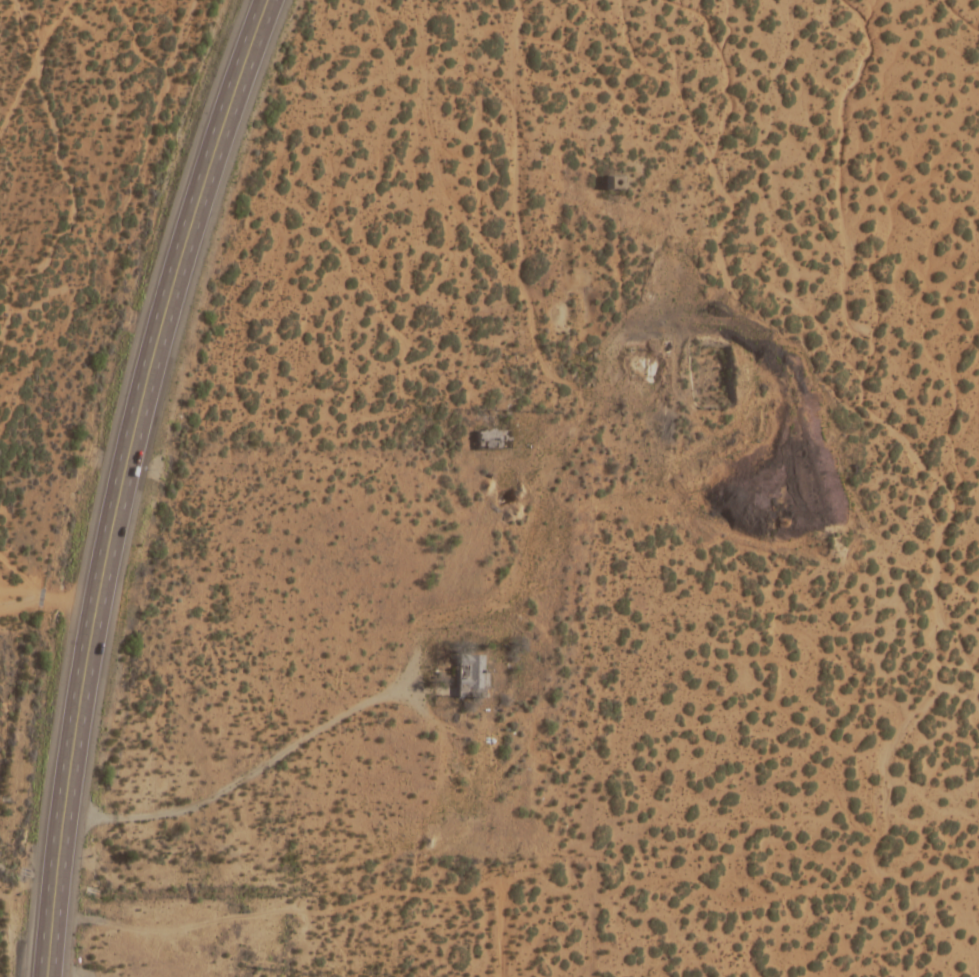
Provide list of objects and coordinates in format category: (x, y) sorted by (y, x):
road: (39, 56)
building: (614, 184)
building: (492, 440)
road: (120, 480)
road: (45, 601)
road: (454, 626)
building: (471, 676)

